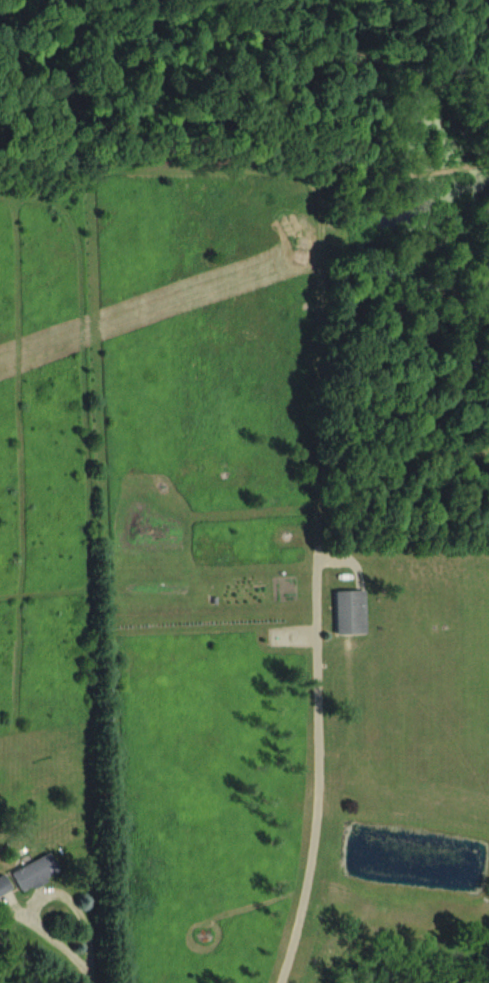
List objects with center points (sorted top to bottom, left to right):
building: (346, 615)
road: (320, 804)
building: (35, 876)
building: (3, 888)
road: (76, 942)

